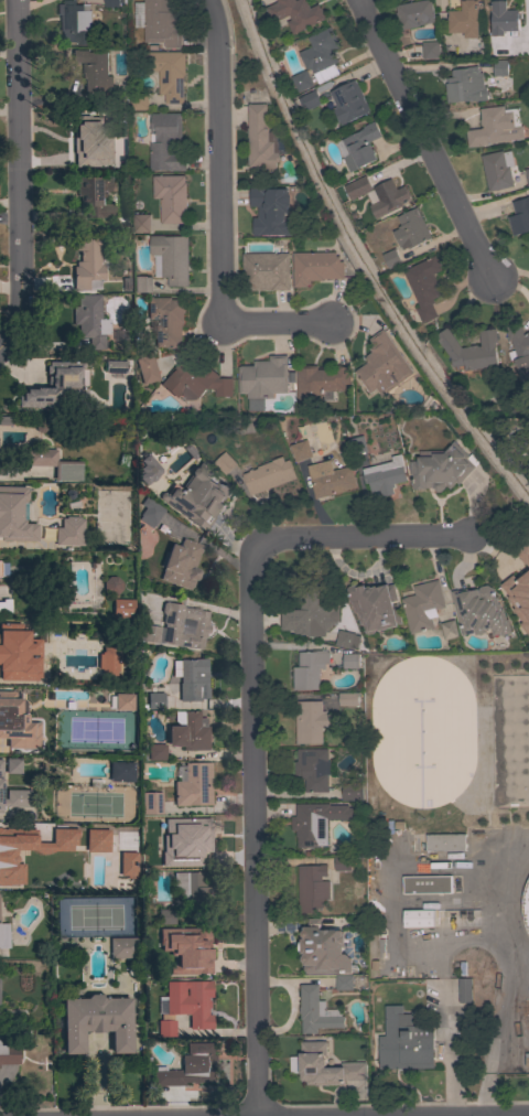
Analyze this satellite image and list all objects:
building: (112, 2)
building: (528, 6)
building: (295, 13)
building: (414, 13)
building: (503, 18)
building: (464, 19)
building: (75, 22)
building: (161, 23)
building: (430, 50)
building: (321, 55)
building: (499, 67)
building: (94, 71)
building: (169, 74)
building: (301, 81)
building: (466, 85)
building: (139, 100)
building: (310, 100)
building: (348, 103)
building: (494, 127)
building: (84, 140)
building: (261, 141)
road: (423, 141)
building: (166, 143)
building: (360, 146)
building: (497, 169)
building: (527, 174)
road: (18, 178)
building: (358, 187)
building: (94, 196)
building: (171, 197)
building: (388, 198)
building: (272, 212)
building: (520, 216)
road: (222, 217)
building: (141, 223)
building: (410, 229)
building: (528, 244)
building: (172, 257)
building: (389, 259)
building: (89, 262)
building: (316, 267)
building: (266, 271)
building: (142, 285)
building: (424, 287)
building: (90, 321)
building: (166, 321)
building: (471, 350)
building: (520, 353)
building: (384, 365)
building: (115, 367)
building: (145, 368)
building: (262, 379)
building: (195, 380)
building: (320, 382)
building: (57, 386)
building: (357, 444)
building: (300, 450)
building: (225, 462)
building: (53, 464)
building: (1, 468)
building: (441, 468)
building: (148, 472)
building: (268, 475)
building: (384, 475)
building: (330, 479)
building: (197, 496)
building: (150, 512)
building: (14, 515)
building: (69, 532)
building: (181, 564)
building: (517, 583)
building: (111, 586)
building: (422, 605)
building: (375, 607)
building: (4, 609)
building: (123, 609)
building: (479, 611)
building: (311, 612)
building: (183, 626)
building: (522, 629)
building: (449, 630)
building: (149, 634)
building: (347, 640)
building: (6, 661)
building: (350, 661)
building: (108, 663)
building: (309, 668)
building: (192, 678)
building: (153, 697)
building: (348, 699)
building: (98, 700)
building: (122, 702)
road: (251, 721)
building: (311, 721)
building: (17, 725)
building: (188, 731)
building: (422, 731)
storage tank: (422, 731)
building: (156, 752)
building: (13, 766)
building: (313, 769)
building: (119, 771)
building: (193, 784)
building: (352, 791)
building: (13, 796)
building: (151, 804)
building: (316, 822)
building: (188, 840)
building: (445, 841)
building: (98, 843)
building: (4, 861)
building: (159, 862)
building: (342, 862)
building: (129, 866)
building: (75, 874)
building: (427, 884)
building: (312, 888)
road: (493, 890)
building: (194, 891)
building: (526, 905)
storage tank: (526, 905)
building: (166, 918)
building: (418, 918)
building: (3, 936)
building: (122, 948)
building: (186, 949)
building: (323, 949)
building: (344, 981)
building: (464, 990)
road: (443, 992)
building: (190, 1002)
building: (316, 1011)
building: (96, 1022)
building: (165, 1029)
building: (404, 1041)
building: (8, 1053)
building: (312, 1063)
building: (188, 1067)

